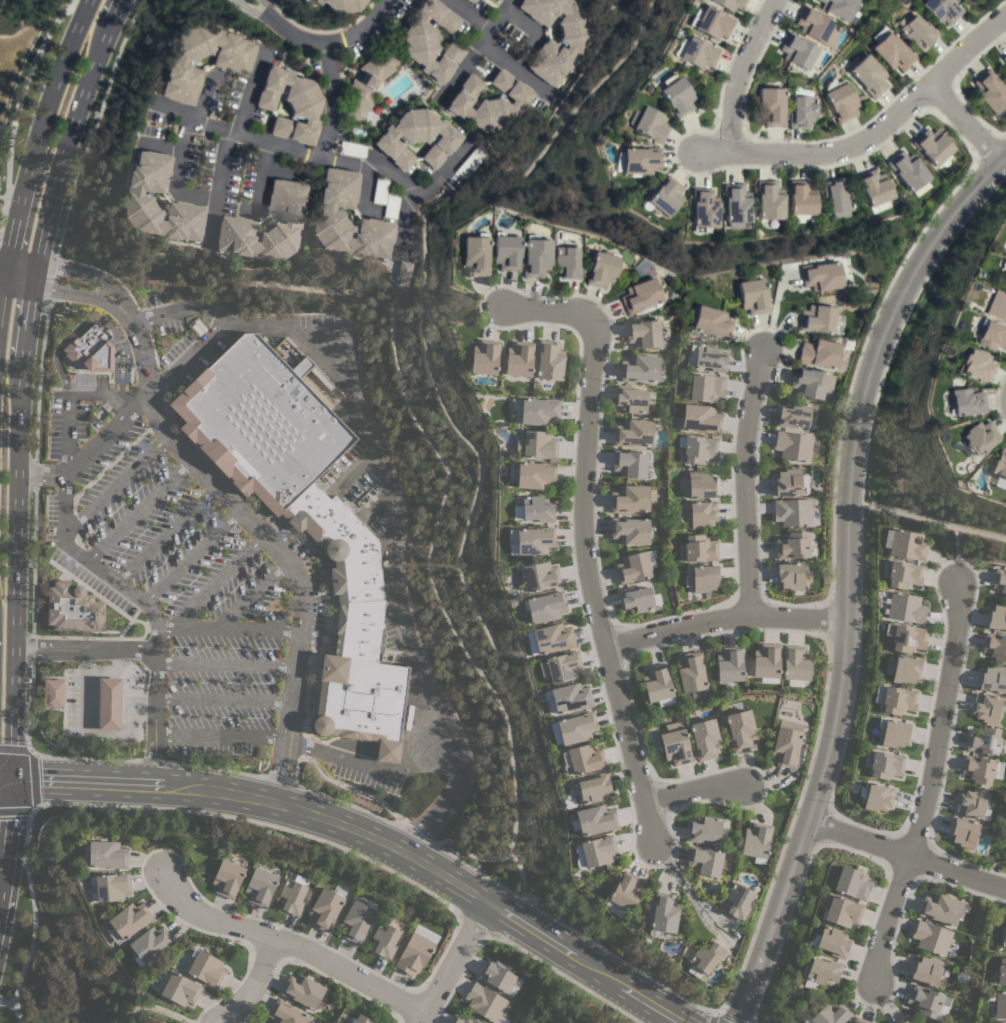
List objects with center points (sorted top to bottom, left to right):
building: (585, 0)
building: (470, 1)
building: (729, 4)
building: (340, 5)
road: (268, 9)
building: (839, 9)
building: (941, 10)
road: (253, 11)
road: (469, 14)
building: (712, 23)
building: (815, 25)
building: (917, 31)
road: (334, 40)
building: (430, 40)
building: (576, 44)
road: (475, 46)
building: (797, 51)
building: (893, 52)
building: (698, 53)
building: (1004, 59)
building: (231, 64)
road: (514, 68)
road: (746, 68)
building: (1004, 69)
building: (869, 76)
building: (367, 84)
road: (54, 87)
building: (989, 92)
building: (676, 95)
road: (202, 96)
road: (330, 100)
road: (17, 101)
building: (488, 102)
building: (841, 102)
building: (289, 104)
building: (771, 107)
building: (802, 112)
building: (650, 125)
road: (966, 125)
road: (873, 136)
building: (416, 138)
road: (224, 144)
road: (160, 146)
building: (932, 148)
building: (352, 149)
road: (287, 150)
building: (474, 159)
building: (640, 161)
building: (908, 173)
road: (177, 174)
road: (260, 175)
road: (423, 190)
building: (874, 190)
road: (365, 191)
building: (379, 191)
building: (665, 196)
building: (140, 197)
building: (801, 198)
building: (837, 198)
building: (768, 200)
building: (390, 205)
building: (735, 205)
building: (703, 210)
building: (326, 213)
building: (235, 220)
road: (14, 223)
building: (506, 252)
building: (475, 255)
building: (536, 257)
building: (567, 262)
building: (1003, 265)
road: (2, 268)
building: (602, 269)
road: (20, 271)
building: (404, 273)
road: (86, 274)
building: (821, 276)
building: (1004, 276)
road: (2, 285)
building: (1005, 285)
road: (77, 293)
building: (640, 296)
building: (753, 296)
building: (997, 306)
building: (817, 319)
road: (91, 321)
road: (220, 323)
building: (711, 323)
building: (198, 326)
building: (643, 333)
parking lot: (185, 334)
building: (991, 335)
building: (91, 349)
building: (818, 354)
building: (707, 356)
building: (484, 357)
building: (519, 359)
building: (549, 360)
building: (977, 365)
building: (640, 368)
building: (321, 378)
road: (20, 381)
building: (811, 383)
building: (706, 387)
road: (68, 396)
building: (631, 399)
building: (966, 403)
building: (535, 410)
parking lot: (68, 412)
building: (793, 414)
building: (700, 419)
building: (633, 433)
building: (980, 438)
building: (537, 444)
building: (794, 446)
building: (699, 449)
building: (629, 463)
building: (1000, 465)
road: (40, 474)
building: (535, 474)
building: (788, 483)
building: (700, 484)
road: (743, 484)
road: (115, 485)
building: (632, 498)
building: (534, 509)
road: (138, 510)
building: (794, 512)
building: (699, 514)
building: (303, 518)
road: (926, 519)
building: (629, 530)
road: (165, 533)
road: (265, 539)
building: (532, 540)
building: (907, 545)
road: (583, 546)
building: (793, 546)
building: (697, 549)
road: (956, 552)
road: (394, 555)
road: (191, 556)
road: (83, 557)
building: (633, 567)
road: (845, 574)
building: (903, 574)
building: (790, 575)
building: (540, 576)
building: (704, 578)
building: (1000, 580)
road: (216, 581)
parking lot: (175, 585)
road: (251, 595)
building: (636, 599)
building: (544, 606)
building: (73, 608)
building: (905, 608)
building: (997, 617)
road: (723, 619)
road: (228, 629)
building: (905, 637)
building: (551, 639)
building: (995, 646)
road: (85, 648)
building: (766, 662)
road: (226, 664)
building: (729, 664)
building: (795, 665)
building: (560, 667)
building: (903, 670)
building: (692, 674)
building: (992, 679)
building: (657, 684)
building: (53, 692)
road: (223, 697)
building: (567, 698)
gas station: (94, 700)
building: (897, 700)
building: (109, 704)
building: (986, 707)
building: (408, 717)
road: (83, 727)
building: (574, 728)
building: (740, 730)
building: (894, 732)
road: (221, 735)
building: (705, 738)
building: (983, 741)
building: (675, 744)
building: (786, 747)
building: (583, 758)
road: (155, 759)
building: (885, 764)
road: (375, 769)
building: (978, 769)
road: (5, 777)
traffic signals: (10, 778)
road: (32, 780)
road: (82, 781)
road: (925, 781)
building: (593, 787)
road: (692, 793)
building: (877, 797)
building: (972, 803)
building: (595, 819)
road: (256, 822)
building: (704, 829)
building: (965, 832)
road: (6, 833)
road: (27, 835)
building: (756, 840)
building: (597, 850)
building: (106, 854)
road: (907, 859)
building: (704, 861)
road: (433, 870)
building: (227, 878)
road: (682, 883)
building: (852, 883)
building: (111, 886)
building: (259, 886)
building: (626, 891)
building: (291, 896)
building: (737, 900)
building: (940, 908)
building: (324, 909)
building: (842, 911)
building: (663, 914)
building: (128, 921)
building: (356, 921)
building: (931, 937)
building: (384, 940)
building: (1003, 941)
road: (286, 942)
building: (832, 942)
building: (150, 944)
road: (30, 945)
building: (414, 953)
building: (705, 959)
road: (452, 962)
building: (205, 968)
building: (926, 970)
building: (1001, 971)
building: (821, 973)
building: (498, 974)
road: (250, 983)
building: (180, 989)
building: (302, 990)
road: (6, 1001)
building: (926, 1001)
building: (485, 1002)
building: (1000, 1005)
road: (154, 1008)
building: (285, 1013)
building: (829, 1013)
road: (721, 1016)
building: (361, 1019)
building: (464, 1020)
building: (859, 1020)
building: (903, 1020)
building: (997, 1022)

